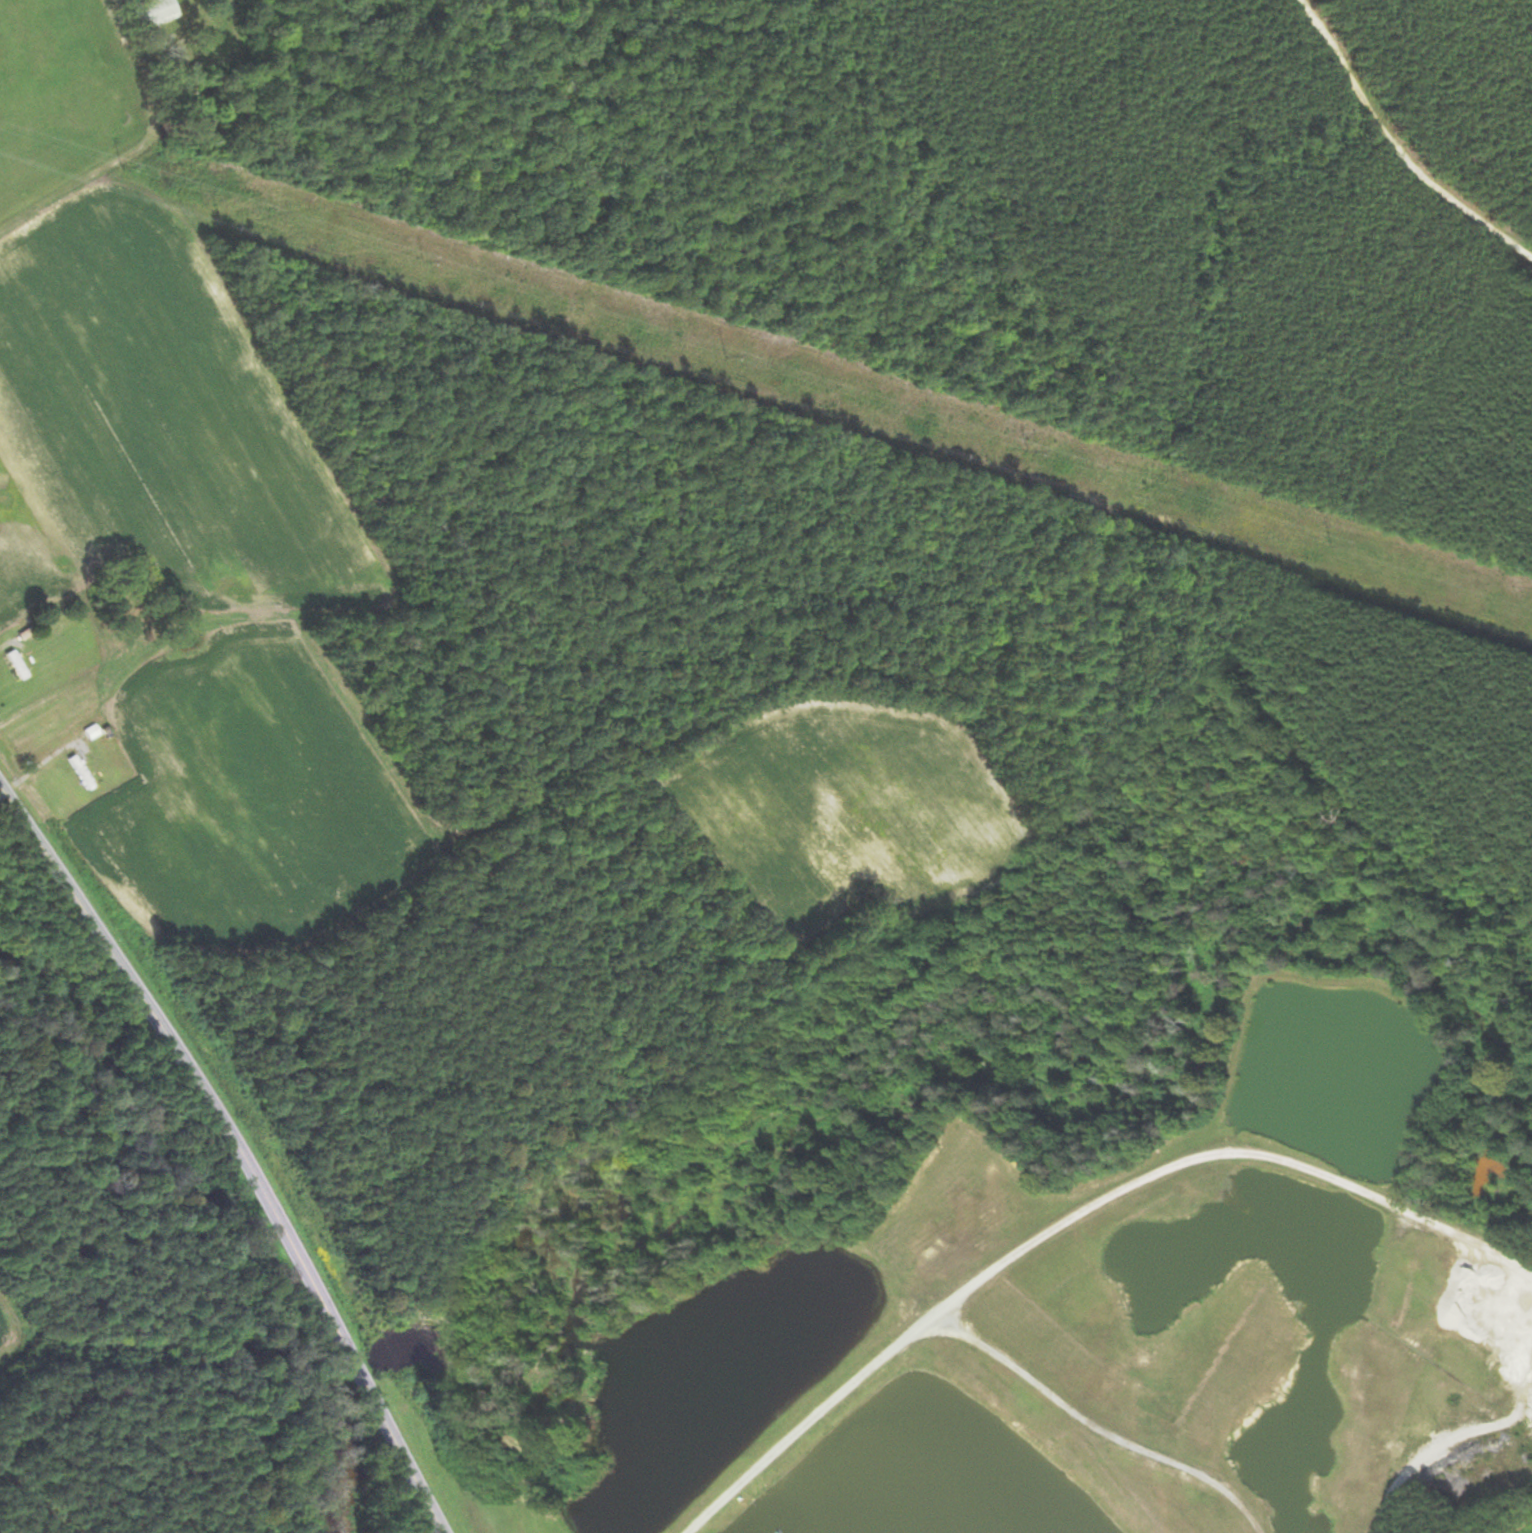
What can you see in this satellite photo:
building: (151, 12)
road: (1395, 147)
building: (14, 665)
road: (52, 754)
building: (78, 773)
road: (234, 1141)
road: (1075, 1218)

